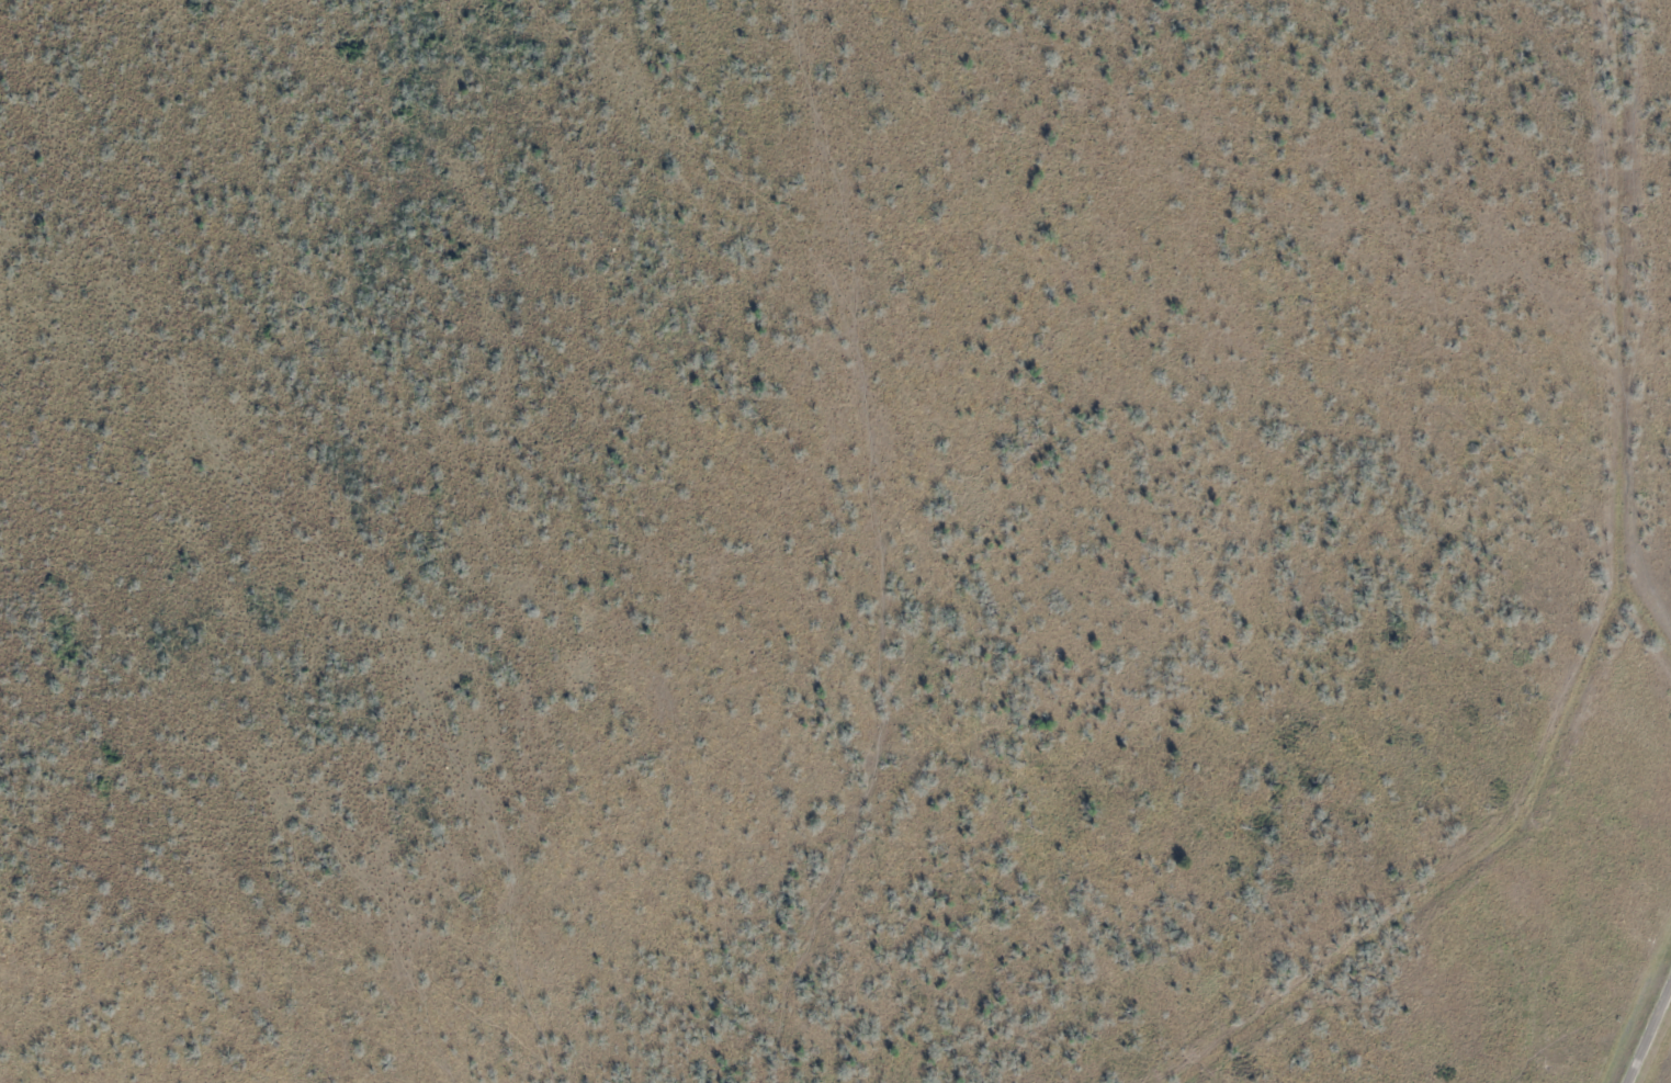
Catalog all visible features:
road: (1646, 1026)

